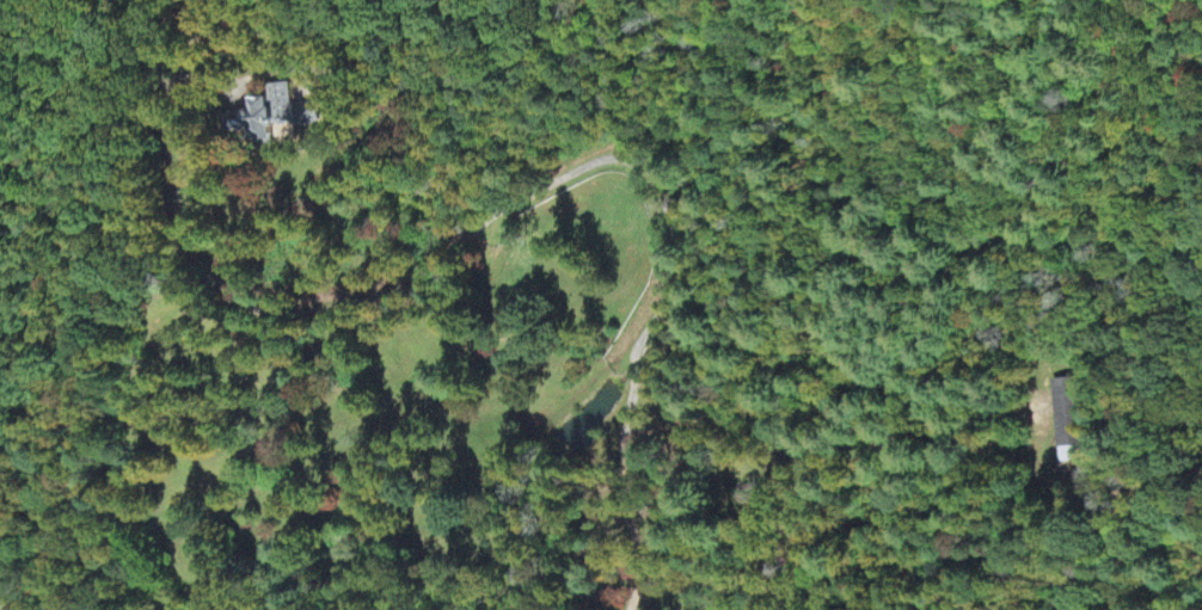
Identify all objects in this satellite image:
building: (276, 121)
building: (1068, 423)

